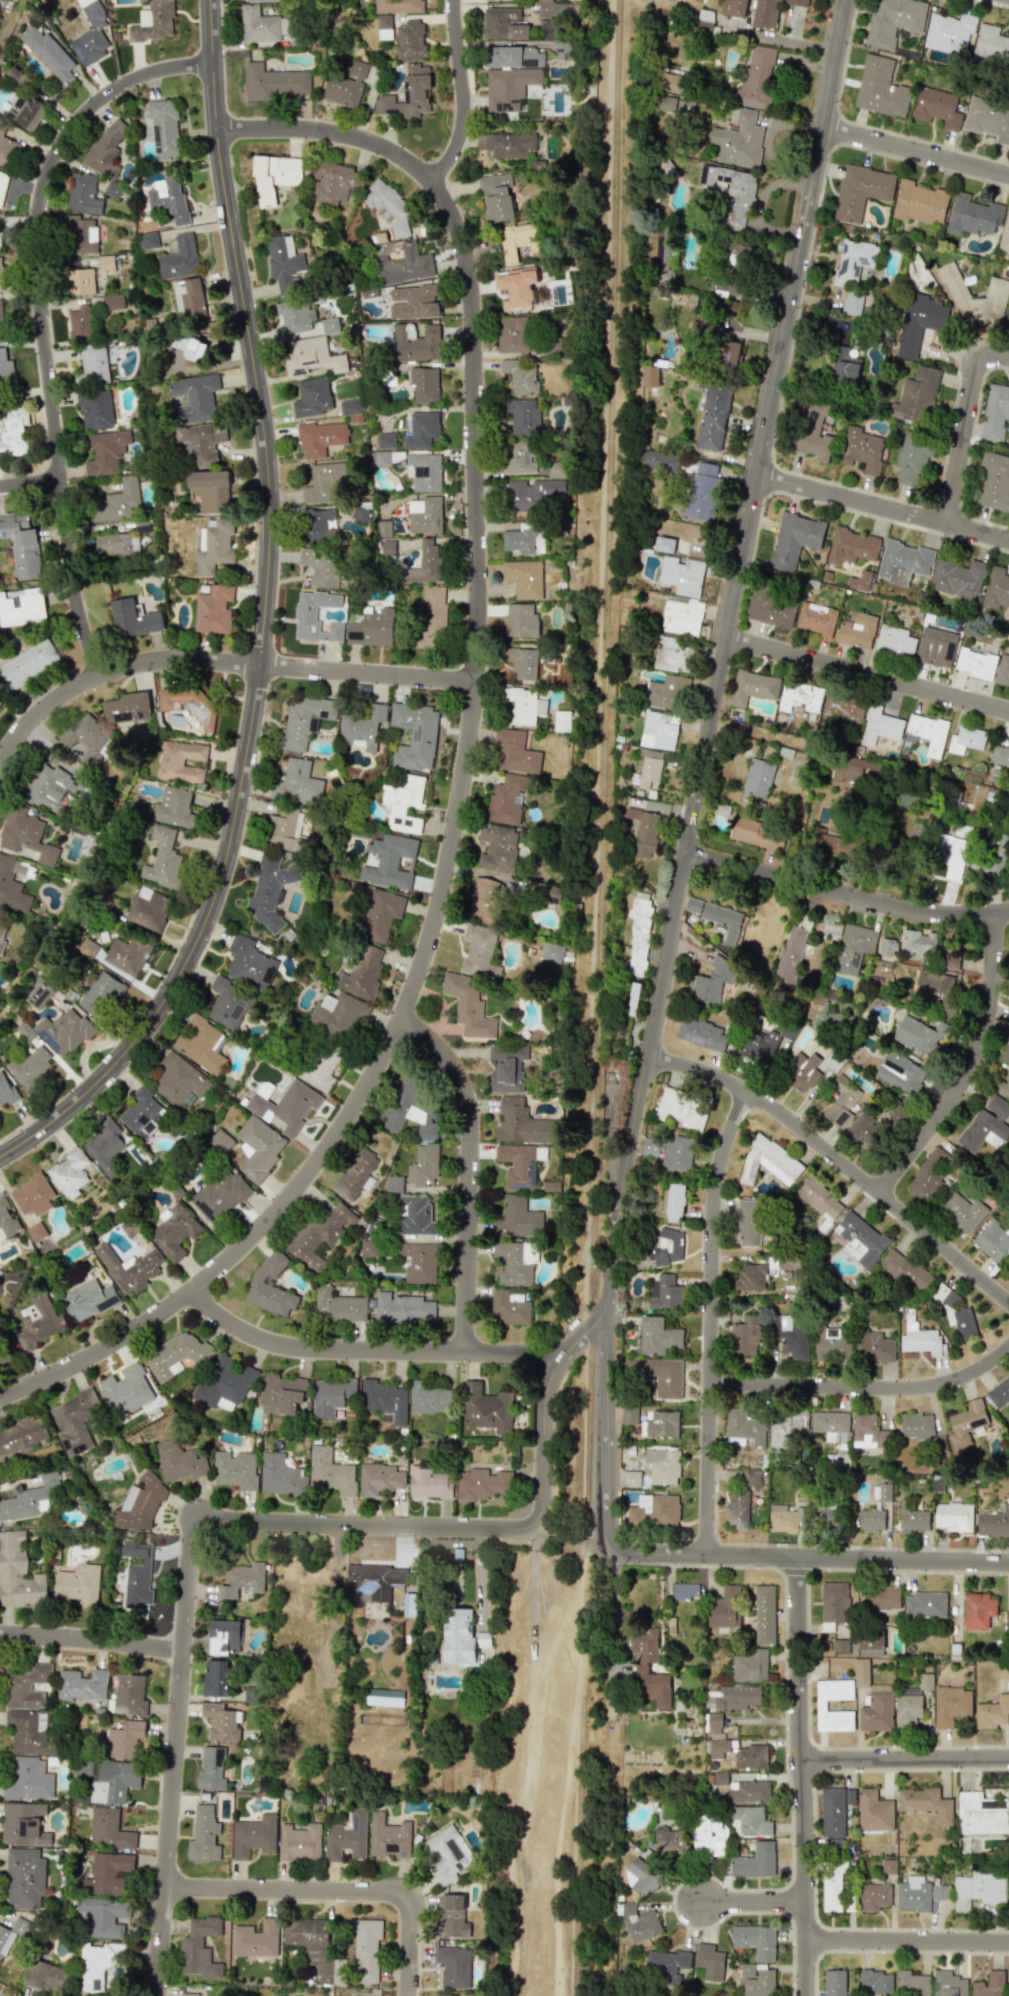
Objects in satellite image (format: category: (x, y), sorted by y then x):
building: (266, 0)
building: (799, 1)
building: (399, 6)
building: (733, 6)
building: (554, 9)
building: (764, 14)
building: (705, 19)
building: (154, 21)
building: (893, 21)
building: (504, 24)
building: (262, 25)
building: (384, 27)
building: (949, 32)
building: (91, 33)
building: (411, 39)
road: (790, 40)
building: (991, 44)
building: (563, 51)
building: (49, 54)
building: (520, 57)
building: (357, 68)
building: (756, 78)
building: (275, 82)
building: (509, 87)
building: (881, 87)
building: (342, 90)
building: (531, 91)
building: (407, 94)
road: (466, 96)
building: (675, 104)
building: (937, 108)
building: (26, 110)
building: (988, 119)
building: (0, 125)
building: (161, 128)
building: (739, 140)
building: (507, 143)
building: (106, 147)
building: (7, 151)
road: (916, 151)
building: (274, 177)
building: (332, 183)
building: (2, 186)
building: (863, 189)
building: (112, 190)
building: (733, 193)
building: (83, 195)
building: (498, 197)
building: (167, 199)
building: (919, 203)
road: (760, 205)
building: (388, 206)
building: (973, 216)
building: (80, 233)
building: (1005, 234)
building: (0, 236)
building: (148, 240)
building: (518, 241)
building: (663, 252)
building: (742, 255)
building: (179, 258)
building: (854, 260)
building: (106, 262)
building: (284, 262)
building: (403, 265)
building: (1, 275)
building: (79, 281)
building: (519, 287)
building: (998, 288)
building: (188, 298)
building: (112, 302)
building: (412, 302)
building: (852, 302)
building: (295, 316)
road: (40, 318)
building: (0, 319)
building: (1007, 321)
building: (80, 322)
building: (918, 322)
building: (329, 326)
building: (703, 330)
building: (512, 334)
building: (416, 343)
building: (190, 347)
building: (729, 355)
building: (310, 356)
building: (844, 365)
building: (5, 368)
building: (521, 376)
building: (651, 376)
building: (424, 384)
building: (916, 396)
building: (196, 397)
building: (312, 397)
building: (350, 407)
building: (95, 409)
building: (995, 413)
building: (524, 416)
building: (714, 418)
road: (967, 422)
building: (421, 430)
building: (14, 433)
building: (813, 433)
building: (320, 438)
building: (385, 440)
building: (200, 444)
building: (862, 449)
building: (105, 451)
building: (380, 458)
building: (518, 458)
building: (911, 460)
building: (659, 461)
building: (425, 471)
building: (994, 482)
building: (324, 483)
road: (30, 489)
building: (209, 489)
building: (704, 490)
building: (531, 494)
building: (117, 502)
road: (883, 509)
building: (359, 513)
building: (425, 515)
building: (318, 523)
building: (383, 528)
building: (795, 539)
building: (524, 540)
building: (21, 544)
building: (116, 544)
building: (665, 545)
building: (214, 546)
building: (851, 546)
building: (387, 547)
building: (902, 562)
building: (425, 563)
building: (322, 567)
building: (683, 575)
building: (524, 578)
building: (958, 578)
building: (859, 581)
building: (996, 588)
building: (21, 606)
building: (771, 608)
building: (214, 609)
building: (431, 612)
building: (306, 614)
building: (682, 617)
building: (133, 618)
building: (816, 618)
road: (266, 620)
building: (520, 620)
building: (371, 629)
building: (857, 630)
railway: (606, 639)
building: (894, 640)
building: (935, 647)
building: (672, 654)
road: (217, 660)
building: (522, 662)
building: (975, 663)
building: (27, 664)
road: (598, 666)
building: (1003, 670)
road: (868, 676)
building: (753, 687)
building: (666, 692)
building: (800, 696)
building: (0, 701)
building: (188, 704)
building: (523, 705)
building: (127, 707)
building: (842, 708)
building: (305, 720)
building: (562, 720)
building: (880, 725)
building: (362, 726)
building: (658, 730)
building: (926, 733)
building: (415, 735)
building: (88, 738)
building: (966, 739)
building: (515, 752)
building: (1000, 756)
building: (181, 761)
road: (465, 768)
building: (647, 768)
building: (849, 769)
road: (703, 773)
building: (758, 778)
building: (298, 782)
building: (52, 787)
building: (505, 800)
building: (404, 803)
building: (174, 807)
building: (819, 817)
building: (284, 828)
building: (644, 831)
building: (753, 833)
building: (27, 835)
building: (835, 844)
building: (497, 847)
building: (951, 855)
building: (162, 858)
building: (389, 861)
building: (13, 884)
building: (269, 890)
road: (847, 894)
building: (480, 898)
building: (149, 908)
building: (379, 915)
building: (716, 917)
building: (639, 933)
building: (2, 939)
building: (918, 943)
building: (88, 947)
building: (855, 947)
building: (888, 947)
building: (480, 951)
building: (552, 952)
building: (791, 954)
building: (127, 955)
building: (249, 963)
building: (361, 973)
building: (711, 981)
building: (933, 984)
building: (100, 992)
building: (227, 1003)
building: (468, 1006)
building: (337, 1015)
building: (64, 1031)
building: (701, 1033)
building: (919, 1035)
building: (201, 1043)
building: (761, 1045)
building: (1006, 1048)
building: (320, 1065)
building: (31, 1066)
road: (971, 1066)
building: (507, 1067)
building: (802, 1072)
building: (901, 1073)
building: (179, 1079)
building: (1004, 1084)
building: (6, 1090)
building: (286, 1106)
building: (681, 1108)
building: (409, 1111)
building: (142, 1112)
building: (899, 1114)
building: (520, 1123)
building: (986, 1126)
building: (863, 1129)
building: (220, 1141)
building: (105, 1145)
building: (258, 1148)
building: (671, 1152)
road: (841, 1160)
building: (769, 1161)
building: (519, 1164)
building: (423, 1166)
road: (469, 1171)
building: (70, 1172)
building: (355, 1173)
building: (930, 1175)
building: (393, 1184)
building: (220, 1194)
building: (34, 1195)
building: (820, 1199)
building: (674, 1202)
building: (963, 1212)
building: (414, 1215)
building: (517, 1218)
building: (749, 1223)
building: (36, 1232)
building: (174, 1232)
building: (319, 1235)
building: (861, 1239)
building: (992, 1241)
building: (369, 1248)
building: (668, 1248)
building: (417, 1262)
building: (512, 1264)
building: (130, 1268)
building: (906, 1270)
building: (750, 1277)
building: (270, 1287)
building: (665, 1292)
building: (88, 1300)
building: (337, 1306)
building: (403, 1308)
building: (38, 1320)
road: (711, 1322)
building: (656, 1336)
building: (746, 1336)
building: (792, 1337)
building: (921, 1339)
building: (875, 1347)
road: (366, 1352)
building: (177, 1355)
building: (631, 1364)
building: (664, 1376)
building: (225, 1383)
road: (865, 1389)
building: (126, 1390)
building: (999, 1392)
building: (281, 1393)
building: (332, 1396)
building: (429, 1398)
building: (384, 1401)
building: (486, 1408)
building: (629, 1414)
building: (74, 1420)
building: (966, 1423)
building: (661, 1424)
building: (832, 1425)
building: (917, 1426)
building: (785, 1427)
building: (744, 1429)
building: (869, 1432)
building: (22, 1435)
building: (941, 1444)
building: (178, 1462)
building: (663, 1465)
building: (235, 1469)
building: (330, 1472)
building: (280, 1475)
road: (610, 1475)
building: (631, 1478)
building: (753, 1478)
building: (379, 1479)
building: (429, 1483)
building: (483, 1484)
building: (882, 1492)
building: (31, 1499)
building: (140, 1503)
building: (654, 1510)
building: (737, 1510)
building: (954, 1516)
building: (828, 1517)
building: (784, 1518)
building: (914, 1520)
building: (872, 1521)
building: (994, 1523)
road: (857, 1560)
building: (19, 1573)
building: (137, 1574)
road: (480, 1575)
building: (242, 1579)
building: (374, 1580)
building: (78, 1585)
road: (188, 1588)
building: (685, 1591)
road: (333, 1594)
building: (882, 1598)
building: (834, 1602)
building: (409, 1604)
building: (926, 1604)
building: (724, 1608)
building: (978, 1610)
building: (763, 1615)
building: (223, 1636)
building: (461, 1637)
road: (92, 1641)
road: (612, 1642)
building: (871, 1643)
building: (840, 1646)
road: (807, 1655)
road: (581, 1664)
building: (749, 1666)
building: (641, 1667)
building: (861, 1672)
railway: (584, 1673)
building: (215, 1678)
building: (83, 1685)
building: (27, 1686)
building: (130, 1695)
building: (383, 1697)
building: (733, 1697)
building: (911, 1702)
building: (821, 1705)
building: (951, 1705)
building: (877, 1709)
building: (992, 1713)
building: (221, 1722)
building: (714, 1722)
road: (927, 1725)
building: (31, 1734)
building: (125, 1739)
building: (718, 1748)
building: (750, 1757)
road: (905, 1761)
building: (211, 1769)
road: (803, 1777)
building: (30, 1779)
building: (115, 1781)
building: (748, 1791)
building: (925, 1803)
building: (874, 1811)
building: (832, 1812)
building: (981, 1814)
building: (750, 1820)
building: (25, 1824)
building: (110, 1828)
building: (204, 1834)
building: (253, 1836)
building: (709, 1836)
building: (347, 1837)
building: (389, 1837)
building: (299, 1842)
building: (669, 1844)
building: (447, 1853)
building: (755, 1861)
building: (889, 1866)
building: (111, 1873)
building: (640, 1877)
building: (26, 1878)
building: (832, 1885)
building: (978, 1888)
road: (342, 1890)
building: (940, 1892)
building: (913, 1894)
building: (874, 1897)
road: (753, 1902)
building: (105, 1916)
building: (453, 1917)
building: (11, 1936)
building: (256, 1939)
building: (755, 1940)
road: (907, 1943)
building: (366, 1947)
building: (200, 1948)
building: (314, 1948)
building: (709, 1962)
building: (101, 1964)
building: (666, 1965)
building: (453, 1966)
building: (747, 1970)
building: (46, 1975)
building: (834, 1982)
building: (760, 1983)
building: (876, 1983)
building: (912, 1984)
building: (948, 1984)
building: (988, 1985)
building: (189, 1994)
building: (444, 1995)

